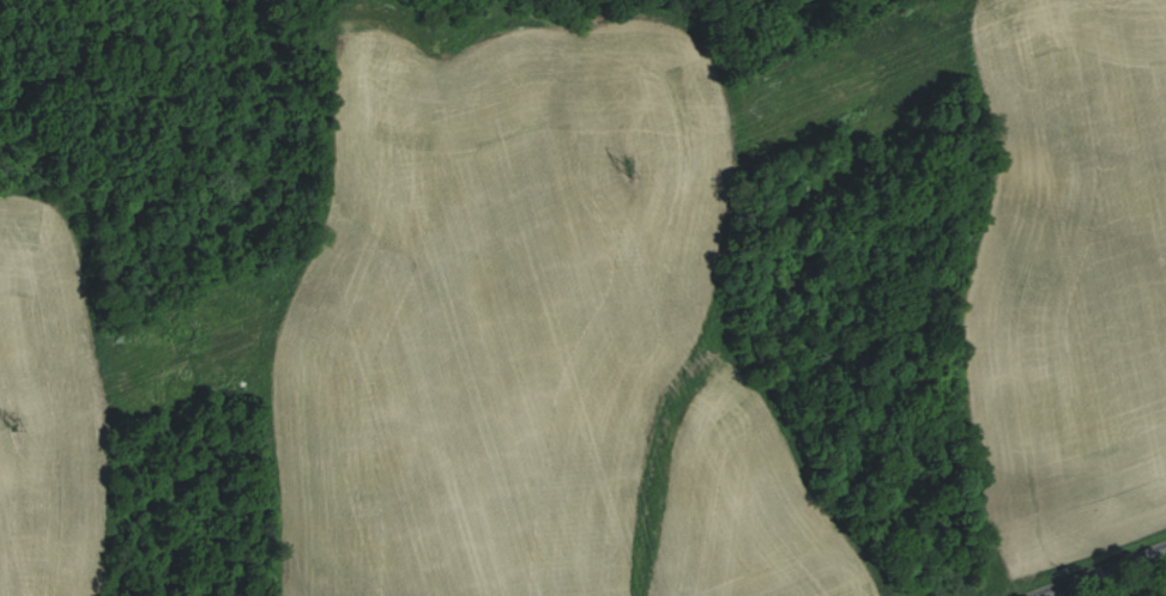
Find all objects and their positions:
road: (1086, 566)

